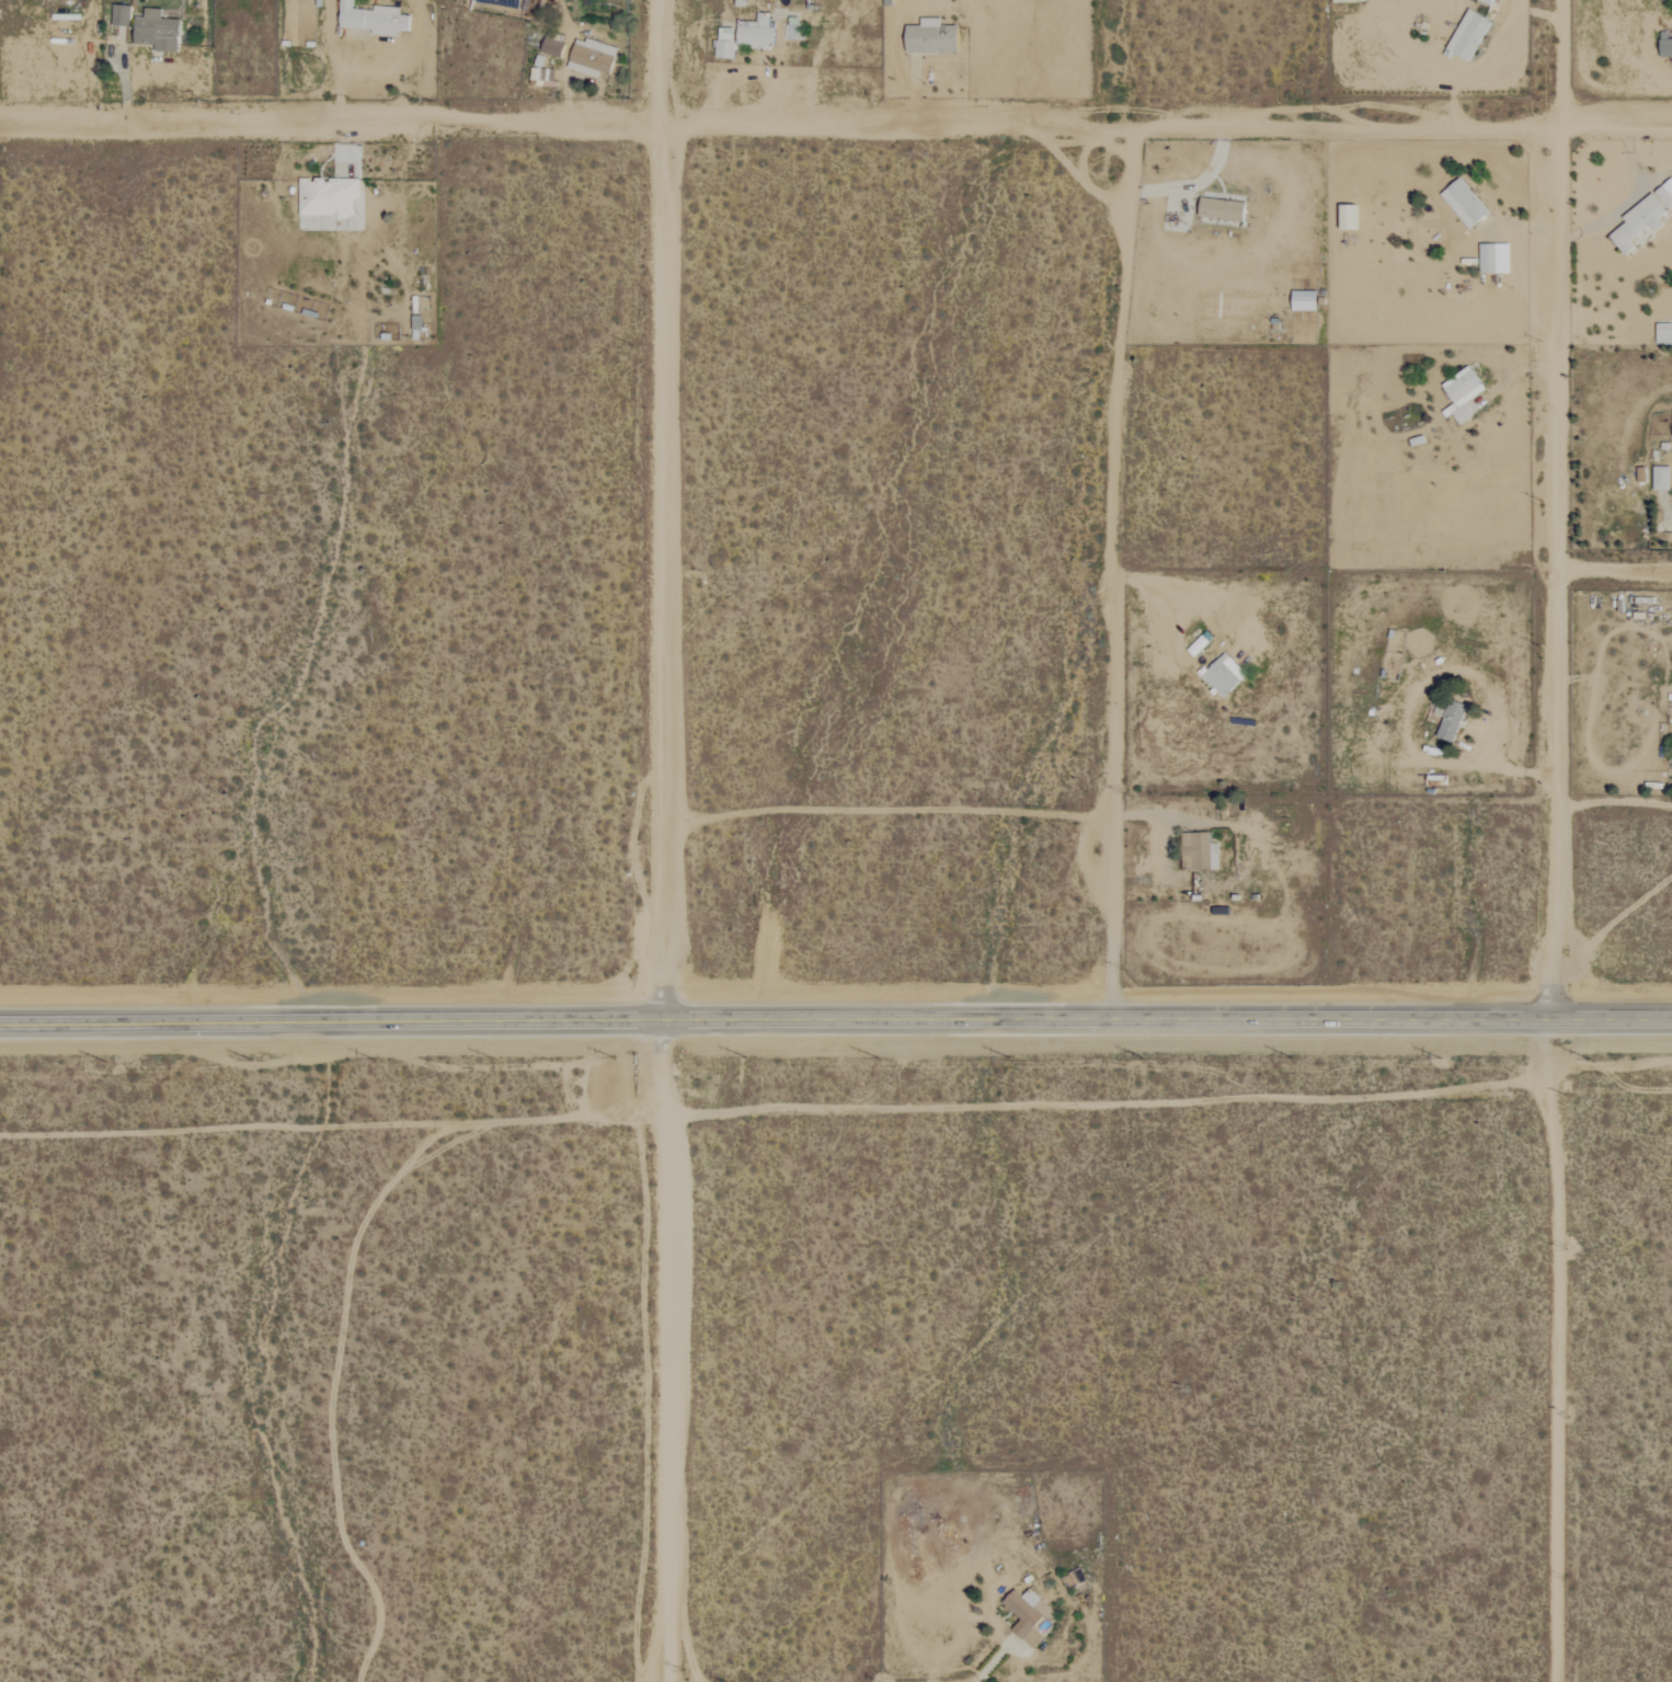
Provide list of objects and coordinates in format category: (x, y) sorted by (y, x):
building: (1485, 1)
building: (124, 15)
building: (377, 20)
building: (161, 31)
building: (754, 33)
building: (1466, 35)
building: (928, 37)
building: (556, 48)
building: (723, 49)
building: (595, 58)
road: (1491, 59)
road: (334, 81)
road: (776, 130)
road: (1612, 135)
road: (1192, 183)
building: (331, 196)
building: (1467, 203)
road: (1621, 207)
building: (1226, 208)
building: (1645, 220)
road: (1516, 224)
building: (1497, 258)
building: (1308, 300)
building: (1664, 336)
building: (1466, 393)
building: (1664, 478)
road: (1665, 507)
road: (657, 508)
road: (1120, 574)
road: (1607, 574)
building: (1227, 675)
road: (1406, 702)
building: (1454, 719)
road: (1160, 825)
road: (1546, 840)
building: (1201, 851)
road: (835, 1018)
road: (662, 1067)
road: (1109, 1103)
road: (660, 1399)
road: (871, 1443)
building: (1029, 1616)

